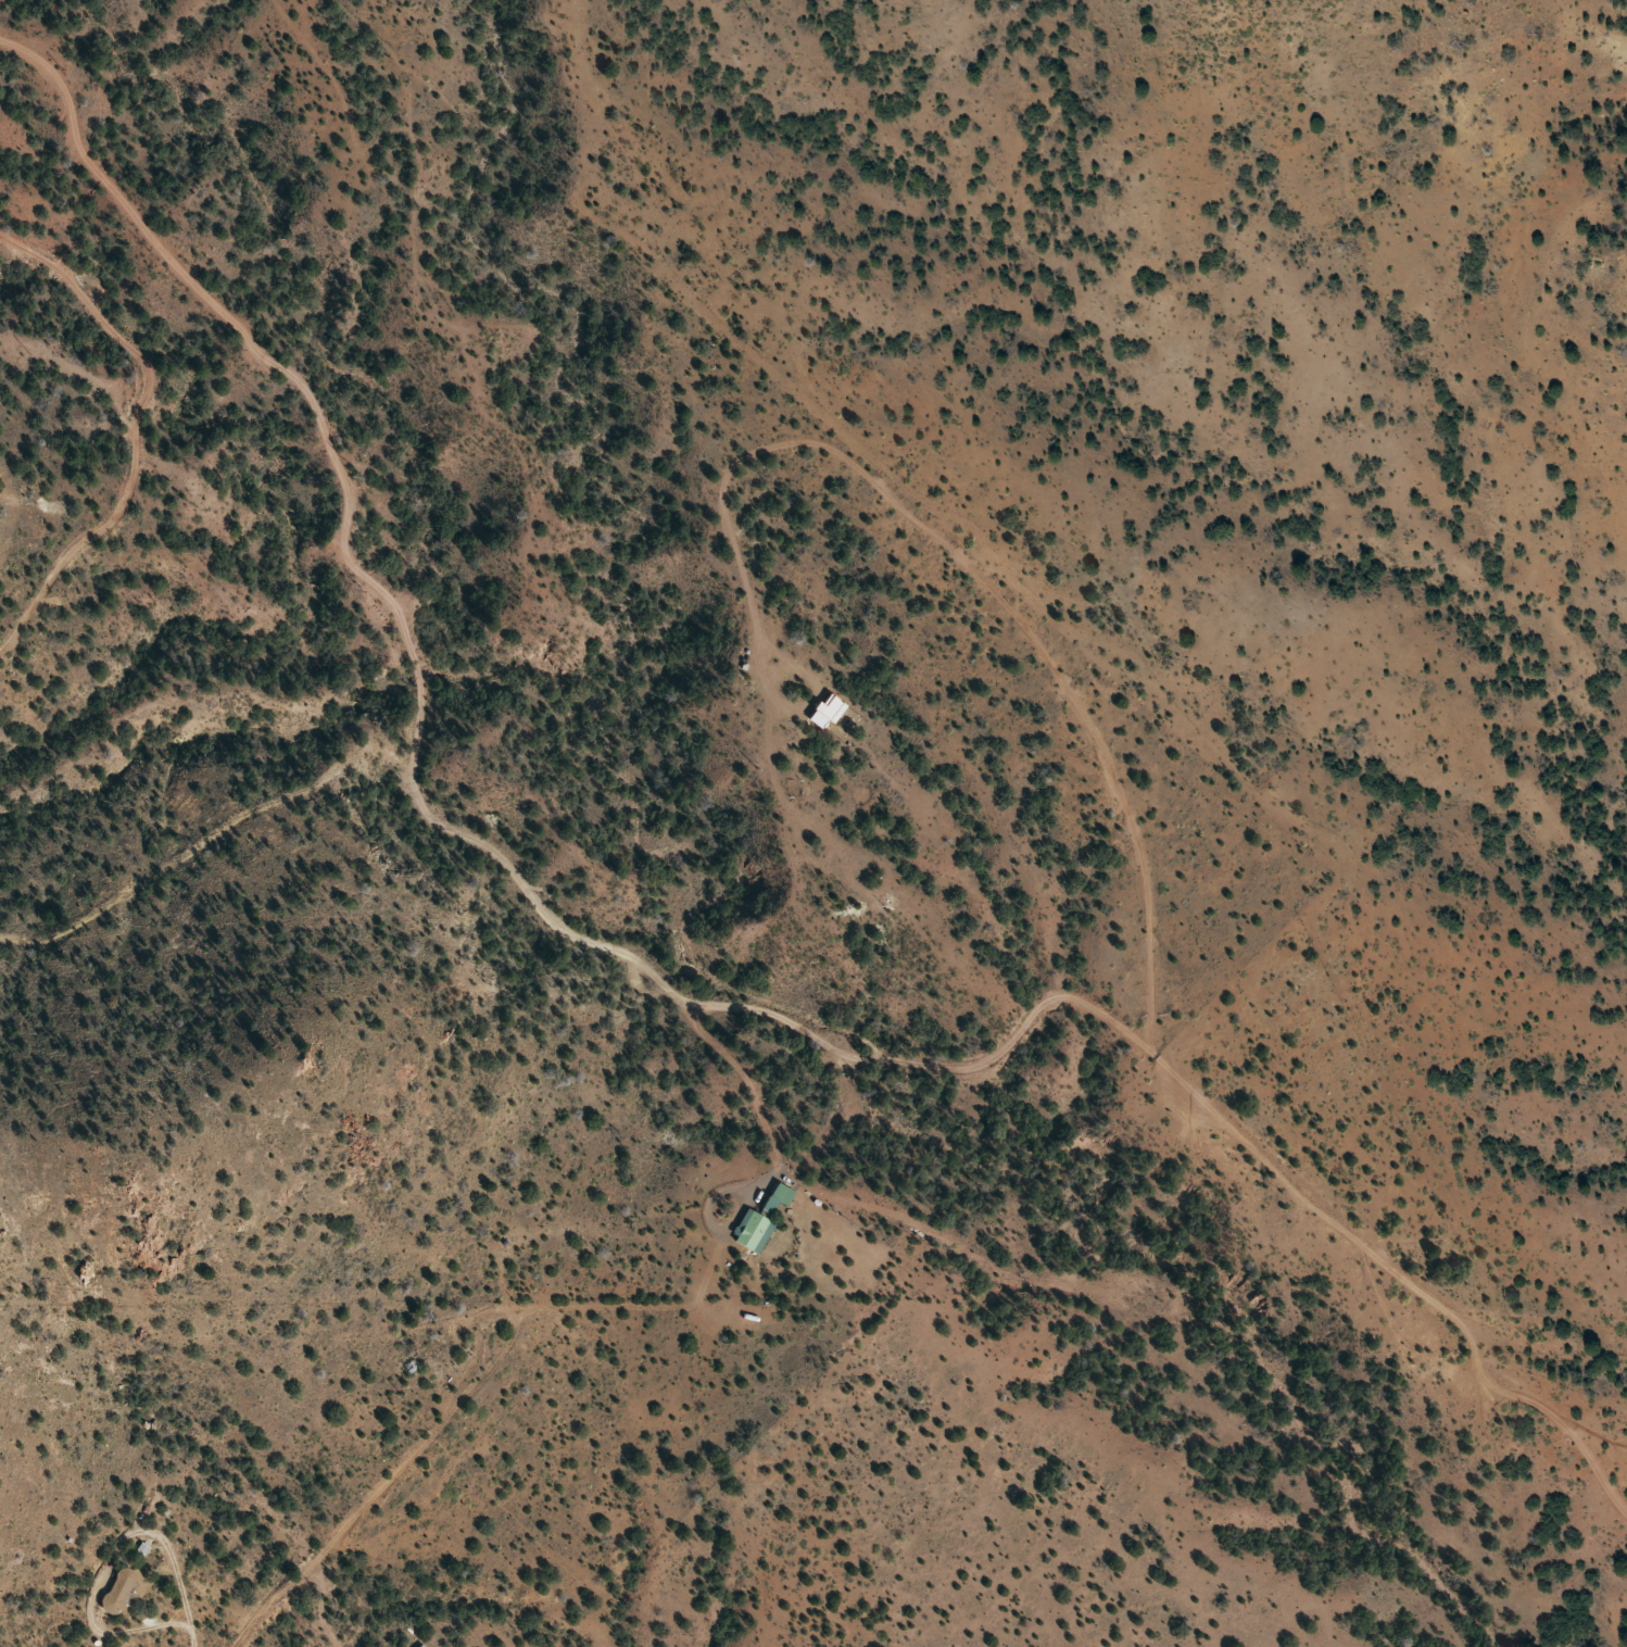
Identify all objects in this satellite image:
building: (828, 707)
road: (1114, 755)
building: (773, 1198)
building: (749, 1232)
road: (707, 1295)
building: (417, 1646)

